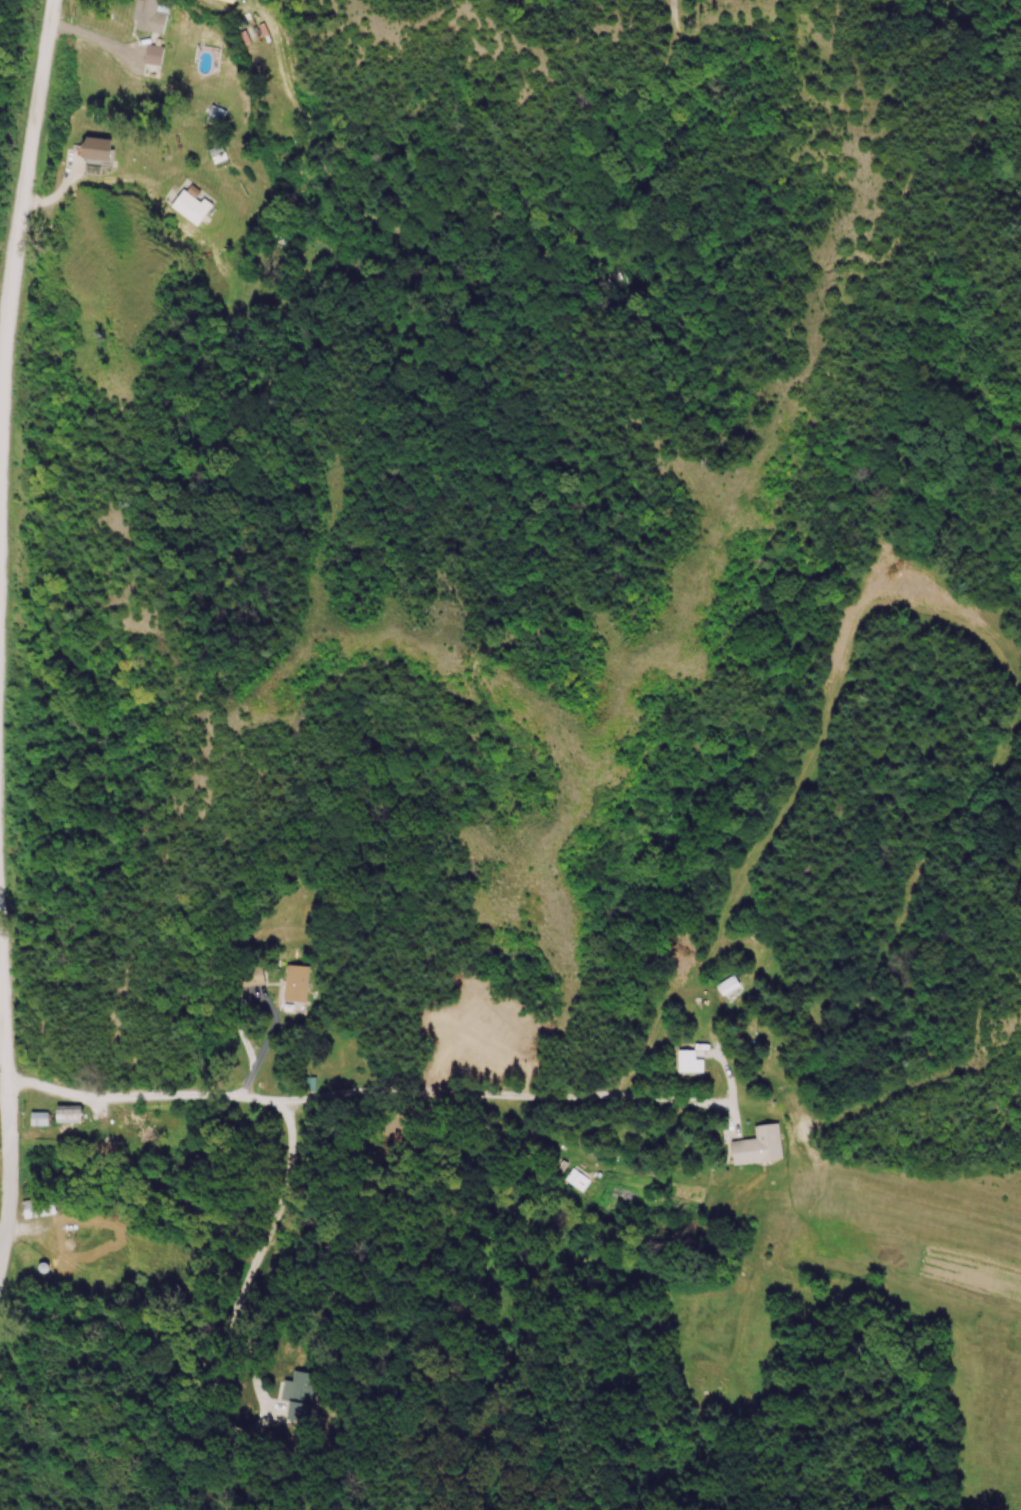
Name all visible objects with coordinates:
building: (228, 1)
building: (150, 17)
building: (155, 56)
building: (210, 113)
building: (99, 150)
building: (219, 155)
road: (20, 167)
building: (252, 977)
building: (297, 985)
road: (271, 1009)
road: (355, 1084)
building: (71, 1116)
building: (41, 1120)
building: (135, 1120)
building: (92, 1144)
building: (760, 1148)
building: (40, 1209)
road: (252, 1236)
building: (299, 1396)
road: (231, 1434)

